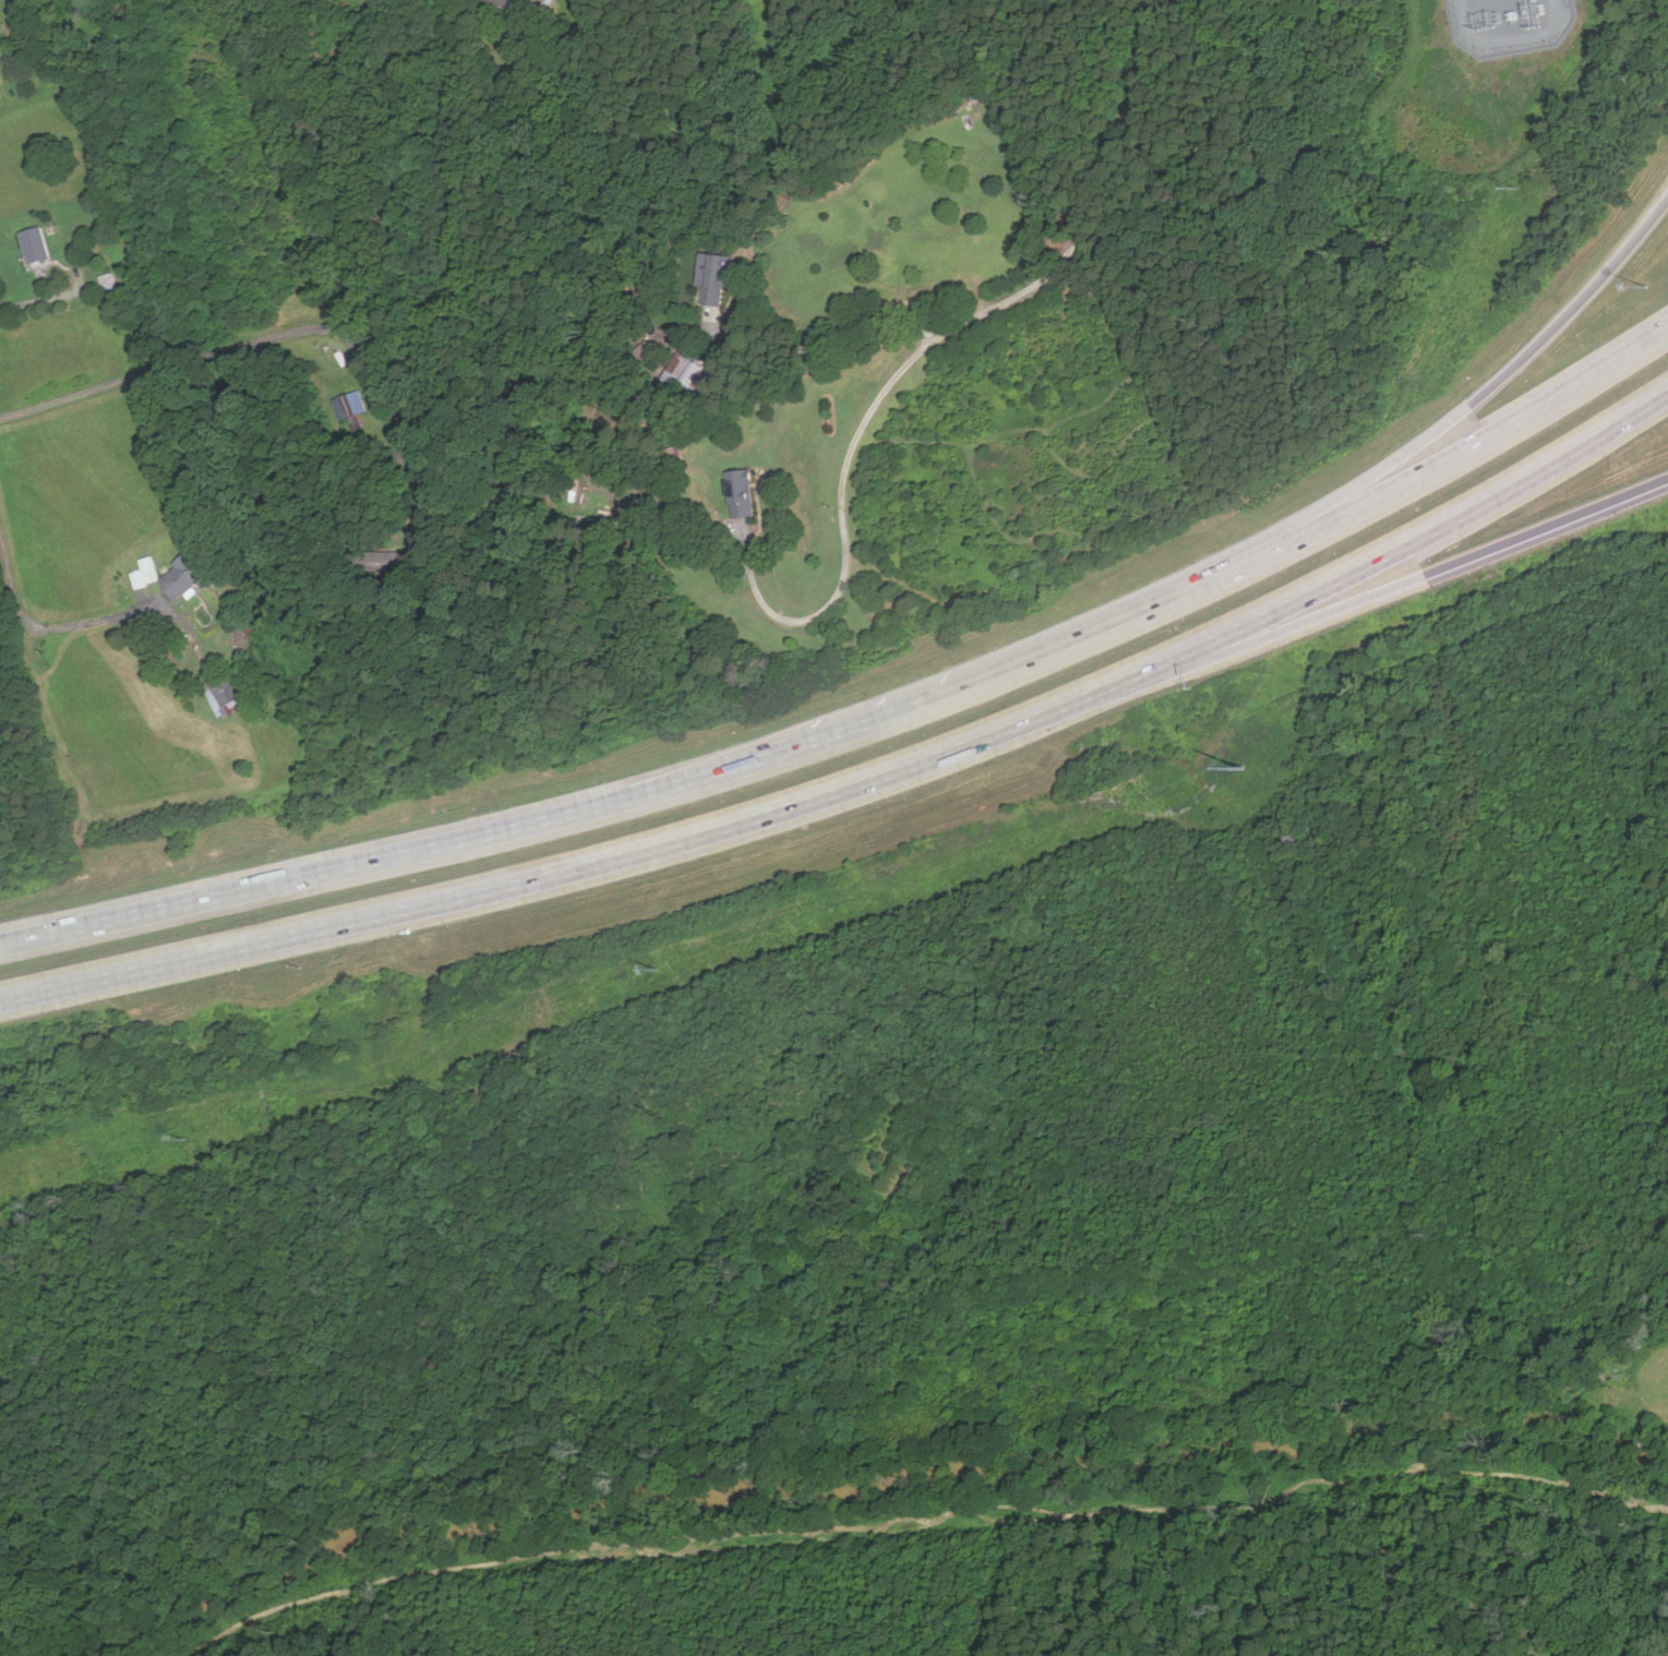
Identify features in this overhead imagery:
building: (515, 9)
power substation: (1510, 24)
building: (0, 96)
building: (36, 245)
building: (715, 278)
road: (45, 299)
road: (832, 333)
road: (281, 336)
road: (928, 345)
road: (1510, 370)
building: (695, 376)
building: (358, 401)
building: (741, 493)
road: (1412, 541)
road: (1250, 561)
building: (189, 573)
road: (1408, 581)
road: (14, 591)
road: (88, 622)
building: (225, 695)
road: (407, 853)
road: (581, 866)

